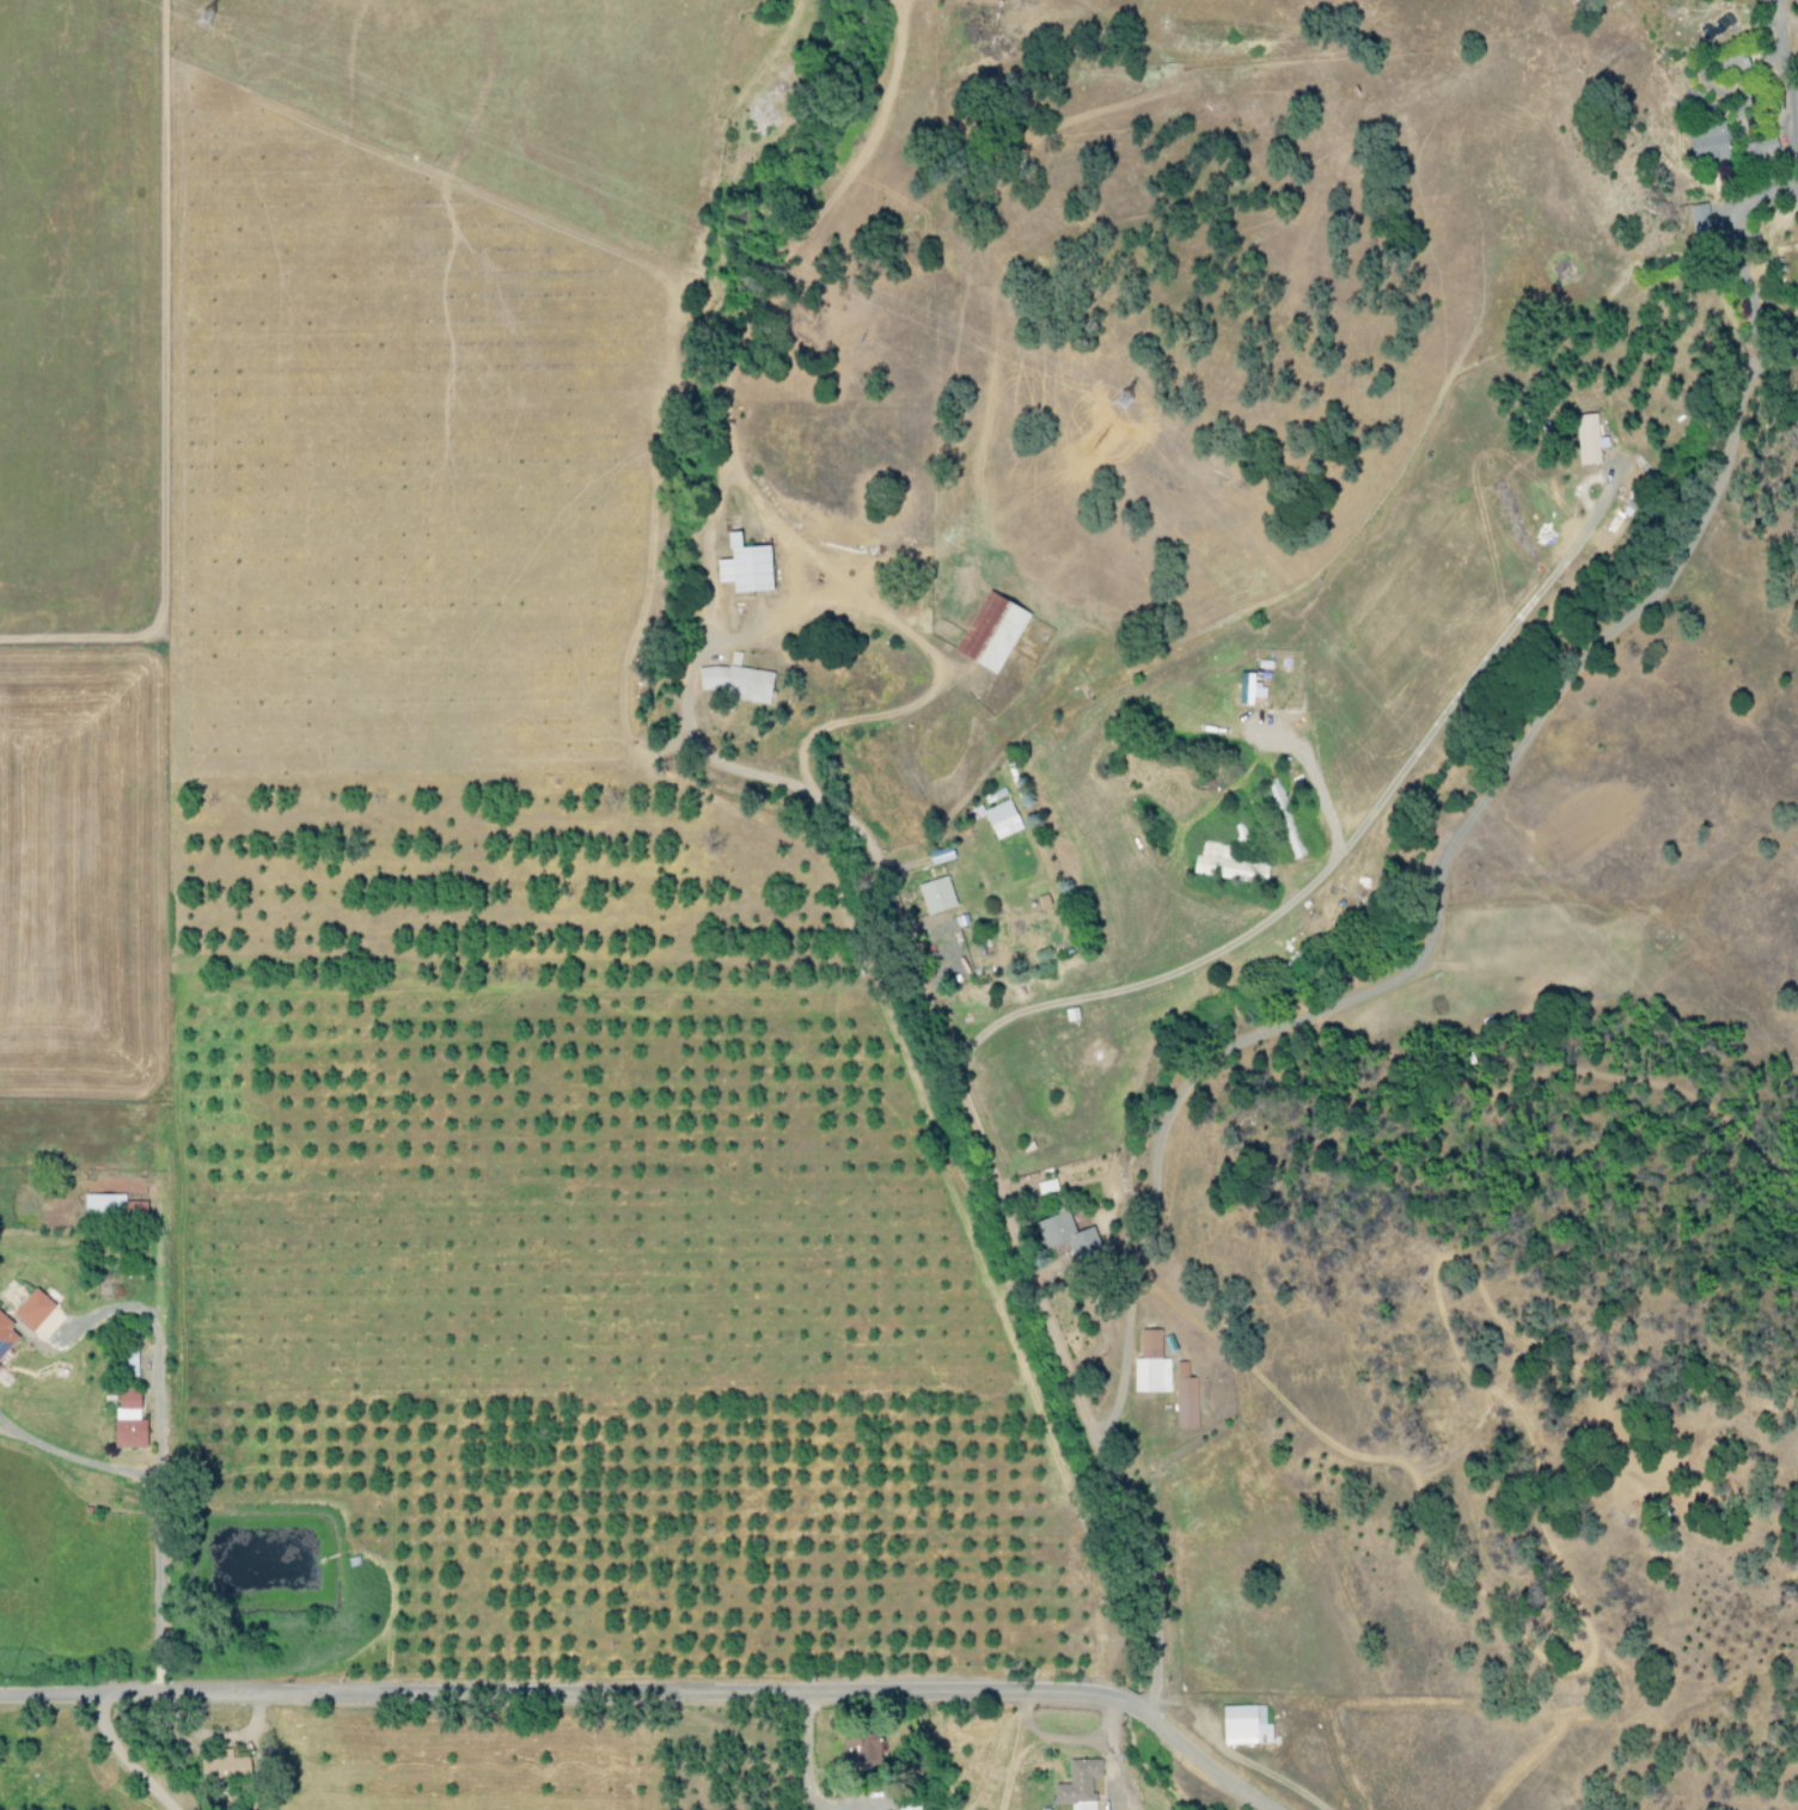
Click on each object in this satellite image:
power tower: (215, 45)
building: (1732, 62)
building: (1705, 142)
building: (1759, 151)
road: (1776, 186)
building: (1695, 216)
building: (1583, 439)
power tower: (1145, 444)
building: (741, 567)
building: (987, 632)
building: (733, 683)
building: (1244, 689)
road: (1558, 689)
building: (971, 814)
building: (1282, 818)
building: (998, 819)
road: (1331, 860)
building: (1223, 862)
building: (932, 895)
road: (1193, 1065)
road: (979, 1102)
building: (100, 1204)
building: (1063, 1236)
building: (29, 1310)
building: (5, 1339)
building: (124, 1364)
building: (1148, 1365)
building: (1182, 1398)
building: (124, 1419)
road: (2, 1425)
road: (2, 1427)
road: (151, 1456)
road: (77, 1457)
road: (653, 1695)
building: (1242, 1726)
building: (856, 1744)
road: (809, 1754)
road: (123, 1759)
building: (221, 1769)
building: (1075, 1783)

